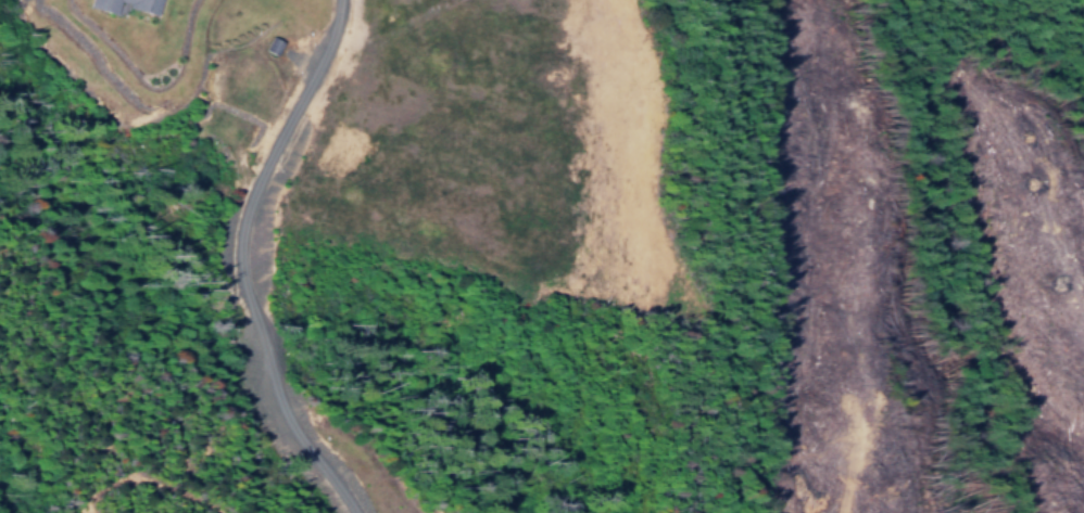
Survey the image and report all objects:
building: (108, 2)
building: (147, 2)
building: (267, 44)
road: (241, 260)

